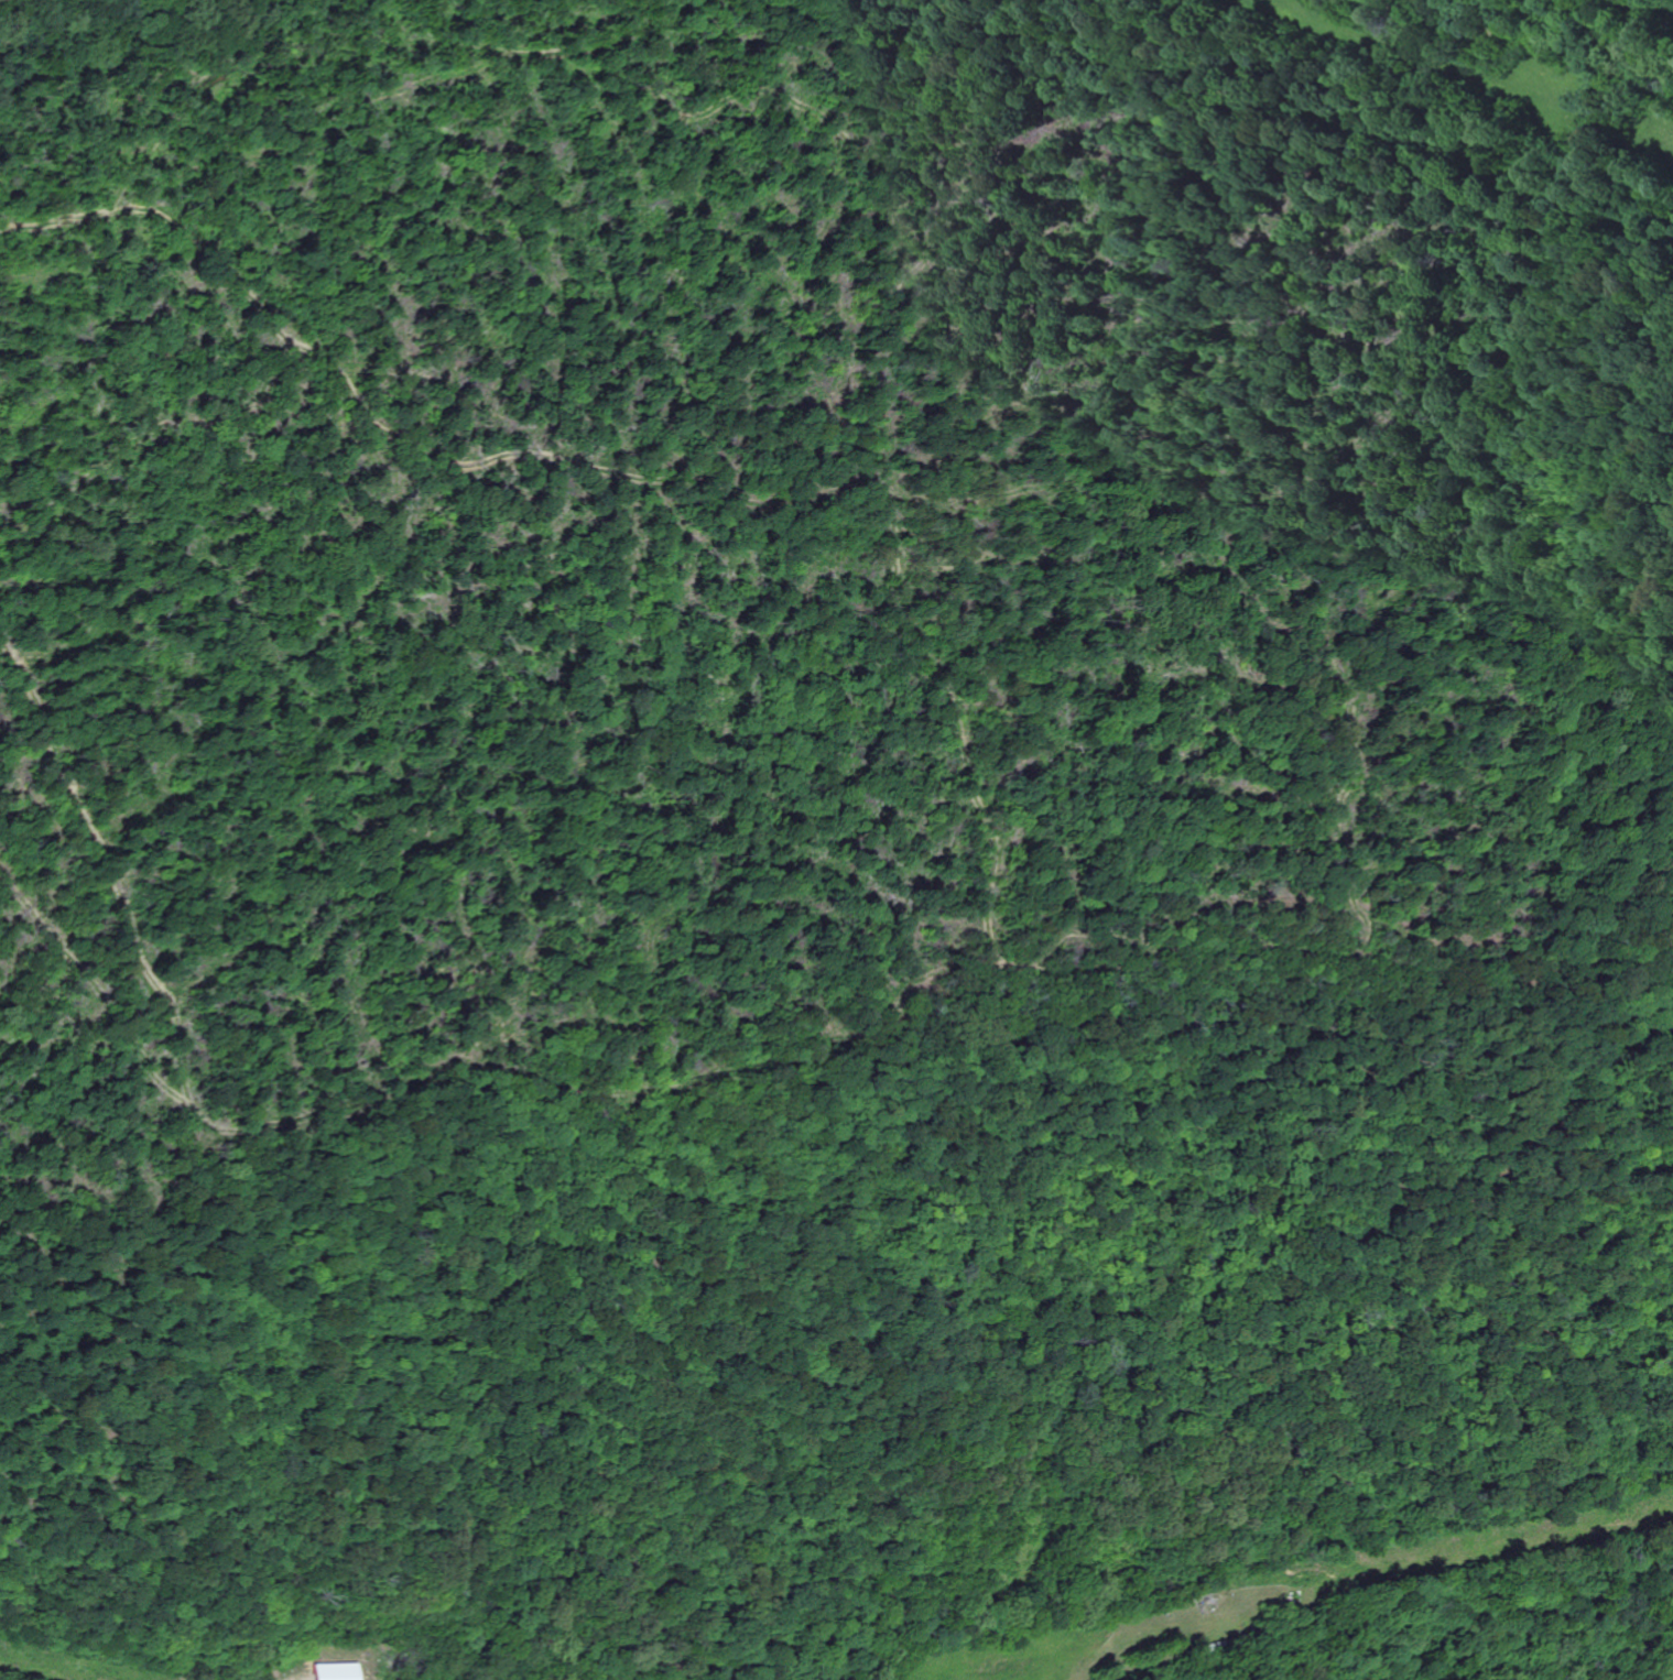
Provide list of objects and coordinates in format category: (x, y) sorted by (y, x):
building: (330, 1672)

